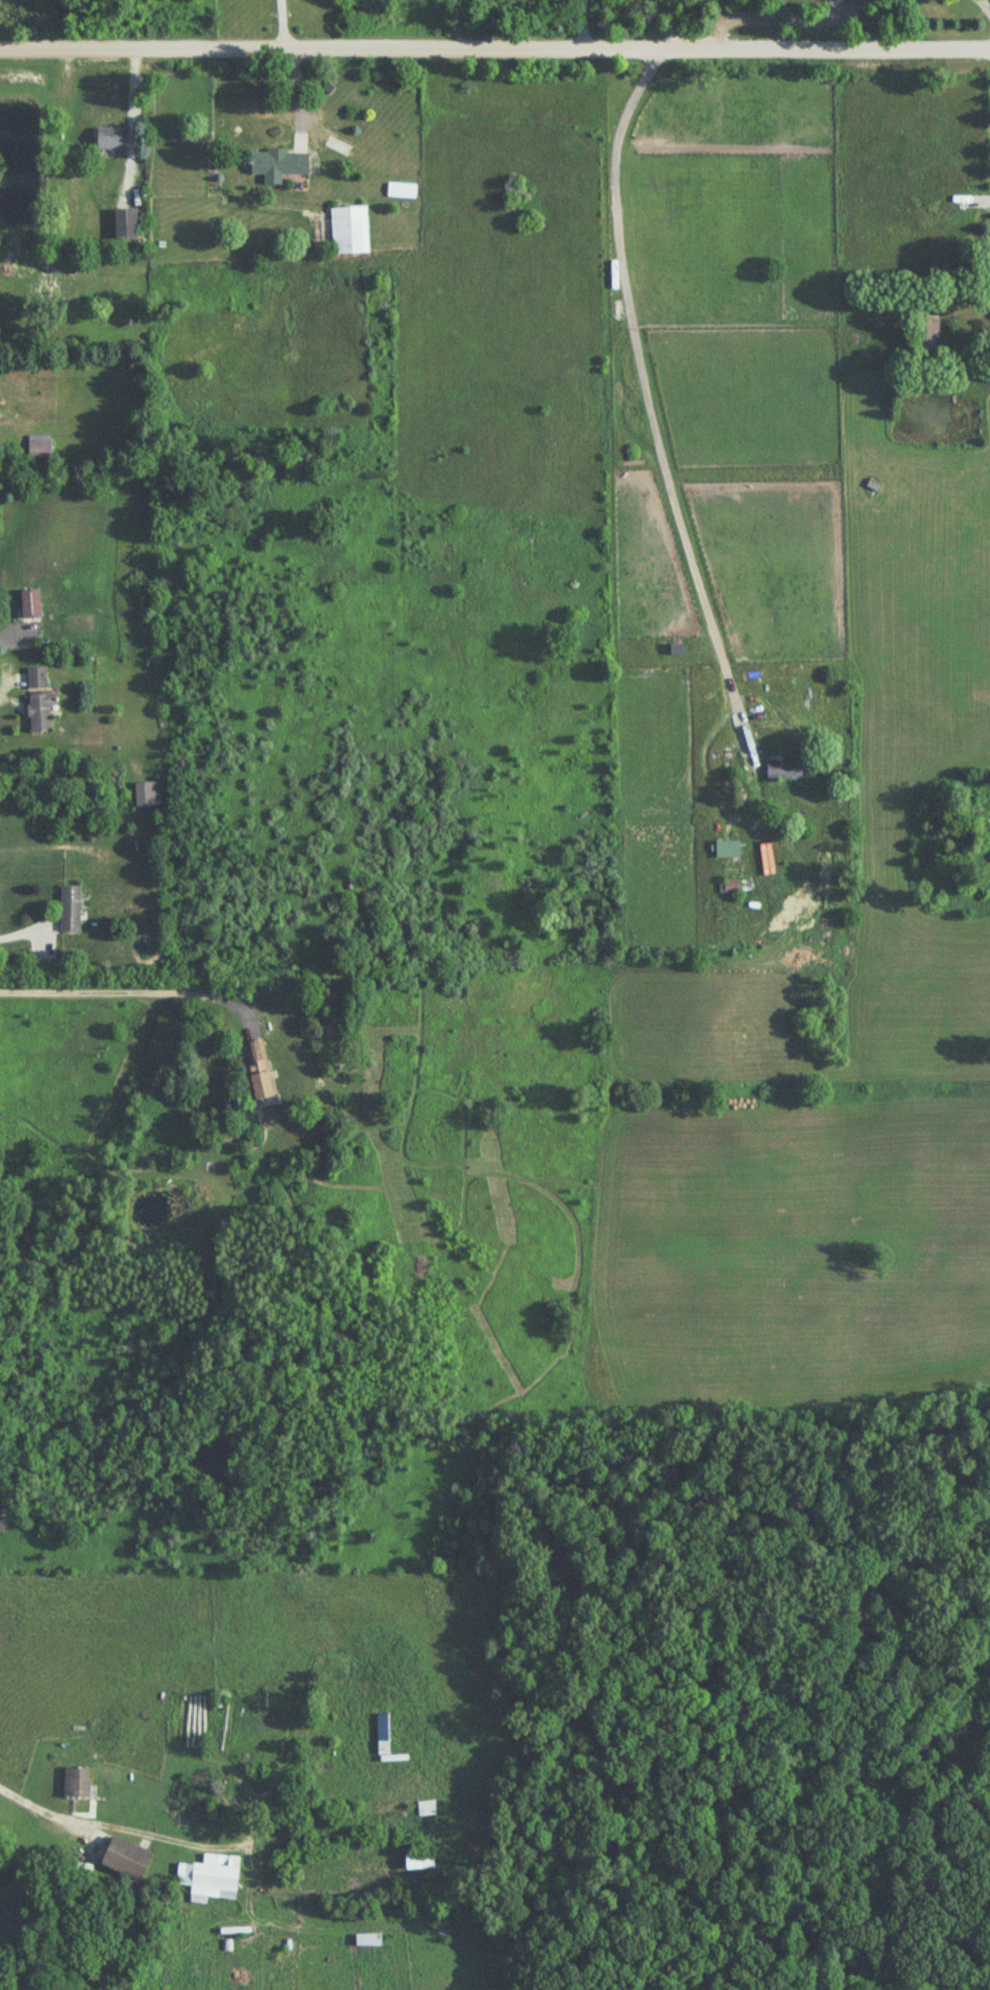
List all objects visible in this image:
road: (760, 15)
road: (282, 26)
road: (494, 53)
building: (111, 140)
building: (277, 166)
building: (126, 225)
building: (349, 231)
building: (926, 334)
road: (648, 393)
building: (39, 451)
building: (30, 604)
road: (14, 631)
building: (36, 679)
road: (4, 683)
building: (39, 714)
building: (787, 772)
building: (147, 795)
building: (728, 888)
building: (69, 911)
road: (20, 936)
road: (120, 990)
building: (257, 1071)
building: (384, 1742)
building: (75, 1783)
road: (28, 1806)
building: (426, 1809)
building: (125, 1859)
building: (418, 1862)
building: (209, 1878)
building: (368, 1941)

